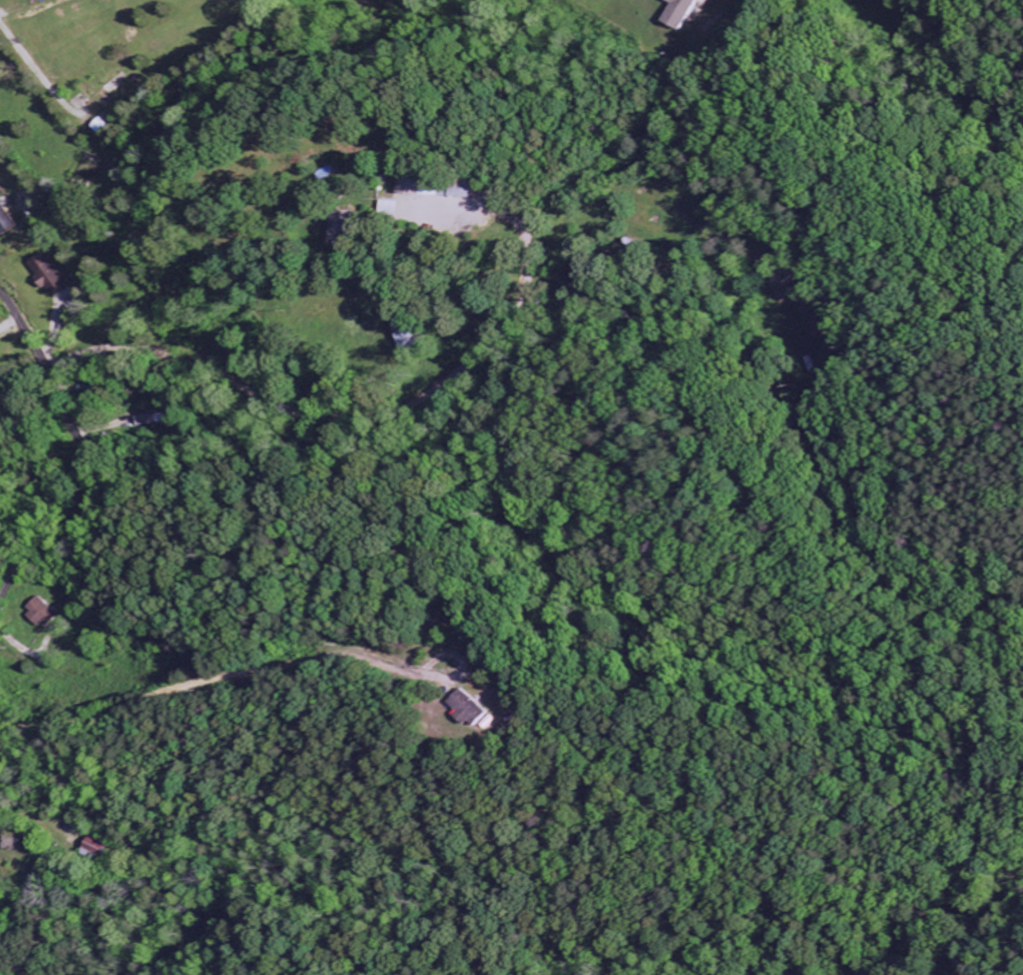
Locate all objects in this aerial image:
building: (683, 13)
road: (40, 74)
building: (425, 185)
building: (7, 219)
road: (92, 272)
building: (48, 275)
road: (138, 317)
road: (5, 319)
building: (413, 335)
road: (373, 419)
building: (149, 420)
road: (84, 469)
building: (49, 613)
road: (221, 680)
building: (477, 709)
road: (42, 816)
building: (105, 846)

